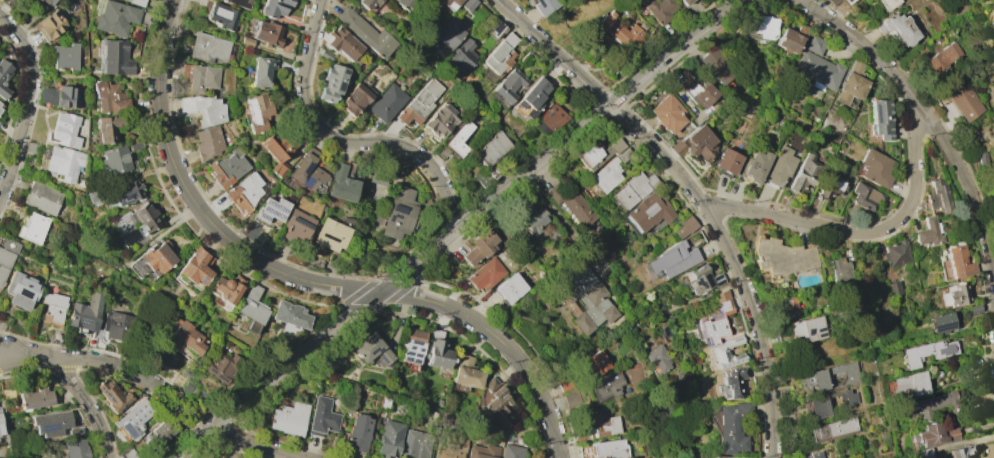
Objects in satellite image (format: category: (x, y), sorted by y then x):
building: (48, 1)
building: (137, 2)
building: (685, 2)
building: (838, 2)
building: (240, 3)
building: (368, 3)
building: (451, 3)
building: (889, 3)
building: (407, 4)
building: (467, 4)
building: (543, 6)
building: (275, 7)
building: (659, 9)
building: (222, 16)
building: (115, 18)
building: (51, 24)
building: (753, 25)
building: (993, 26)
building: (493, 29)
building: (898, 29)
building: (450, 32)
building: (267, 33)
building: (366, 33)
building: (630, 36)
building: (791, 39)
building: (246, 42)
building: (342, 43)
building: (815, 45)
building: (208, 48)
building: (993, 54)
building: (325, 55)
building: (64, 56)
building: (944, 57)
building: (116, 58)
building: (498, 58)
building: (525, 58)
building: (460, 61)
building: (716, 66)
building: (991, 66)
building: (817, 70)
building: (261, 72)
building: (202, 77)
building: (3, 78)
building: (331, 82)
building: (851, 84)
building: (507, 87)
building: (700, 92)
building: (61, 96)
building: (110, 97)
building: (532, 97)
building: (355, 99)
building: (964, 101)
building: (420, 102)
building: (387, 103)
road: (29, 104)
building: (202, 108)
building: (0, 109)
building: (257, 112)
building: (667, 113)
road: (926, 114)
building: (549, 119)
building: (880, 119)
building: (441, 120)
building: (110, 126)
building: (65, 129)
building: (457, 140)
building: (208, 143)
road: (345, 143)
building: (695, 144)
building: (135, 146)
building: (31, 147)
building: (276, 151)
building: (596, 152)
building: (624, 155)
building: (490, 158)
building: (982, 158)
building: (115, 159)
building: (64, 162)
building: (727, 162)
building: (756, 165)
building: (780, 166)
building: (227, 167)
building: (876, 168)
building: (307, 170)
building: (805, 173)
building: (606, 175)
building: (341, 184)
building: (831, 186)
building: (633, 189)
building: (126, 192)
building: (244, 192)
road: (698, 193)
building: (91, 196)
building: (865, 196)
building: (938, 196)
building: (41, 197)
building: (571, 205)
building: (993, 205)
building: (649, 210)
building: (270, 212)
building: (398, 213)
building: (143, 217)
road: (560, 219)
building: (534, 221)
building: (32, 227)
building: (296, 227)
building: (684, 227)
road: (457, 229)
building: (929, 232)
road: (861, 233)
building: (329, 235)
building: (9, 246)
building: (478, 247)
building: (896, 254)
building: (156, 256)
building: (781, 257)
building: (672, 259)
building: (959, 262)
building: (4, 263)
building: (194, 267)
building: (485, 274)
building: (839, 274)
building: (701, 279)
road: (301, 280)
building: (226, 288)
building: (510, 288)
building: (20, 289)
road: (727, 289)
building: (894, 289)
building: (952, 295)
building: (587, 300)
building: (723, 303)
building: (252, 306)
building: (53, 307)
building: (85, 312)
building: (290, 315)
building: (942, 322)
building: (116, 325)
road: (634, 327)
building: (712, 329)
building: (806, 329)
building: (187, 337)
building: (412, 348)
building: (371, 349)
building: (436, 350)
building: (928, 352)
building: (726, 353)
building: (658, 358)
building: (597, 362)
building: (223, 367)
building: (466, 373)
building: (679, 375)
building: (830, 376)
building: (733, 380)
road: (71, 383)
road: (157, 384)
building: (490, 384)
building: (605, 385)
building: (909, 385)
building: (190, 387)
building: (112, 395)
building: (34, 399)
building: (572, 399)
building: (817, 405)
building: (937, 405)
building: (497, 406)
building: (0, 414)
building: (322, 417)
building: (133, 418)
building: (289, 418)
building: (50, 423)
building: (1, 427)
building: (606, 427)
building: (731, 427)
building: (833, 429)
building: (358, 432)
building: (160, 433)
building: (935, 434)
building: (390, 439)
building: (416, 445)
building: (452, 445)
building: (75, 448)
building: (610, 448)
building: (511, 451)
building: (963, 451)
building: (482, 452)
building: (923, 453)
building: (129, 454)
building: (813, 455)
building: (138, 457)
building: (720, 457)
building: (744, 457)

